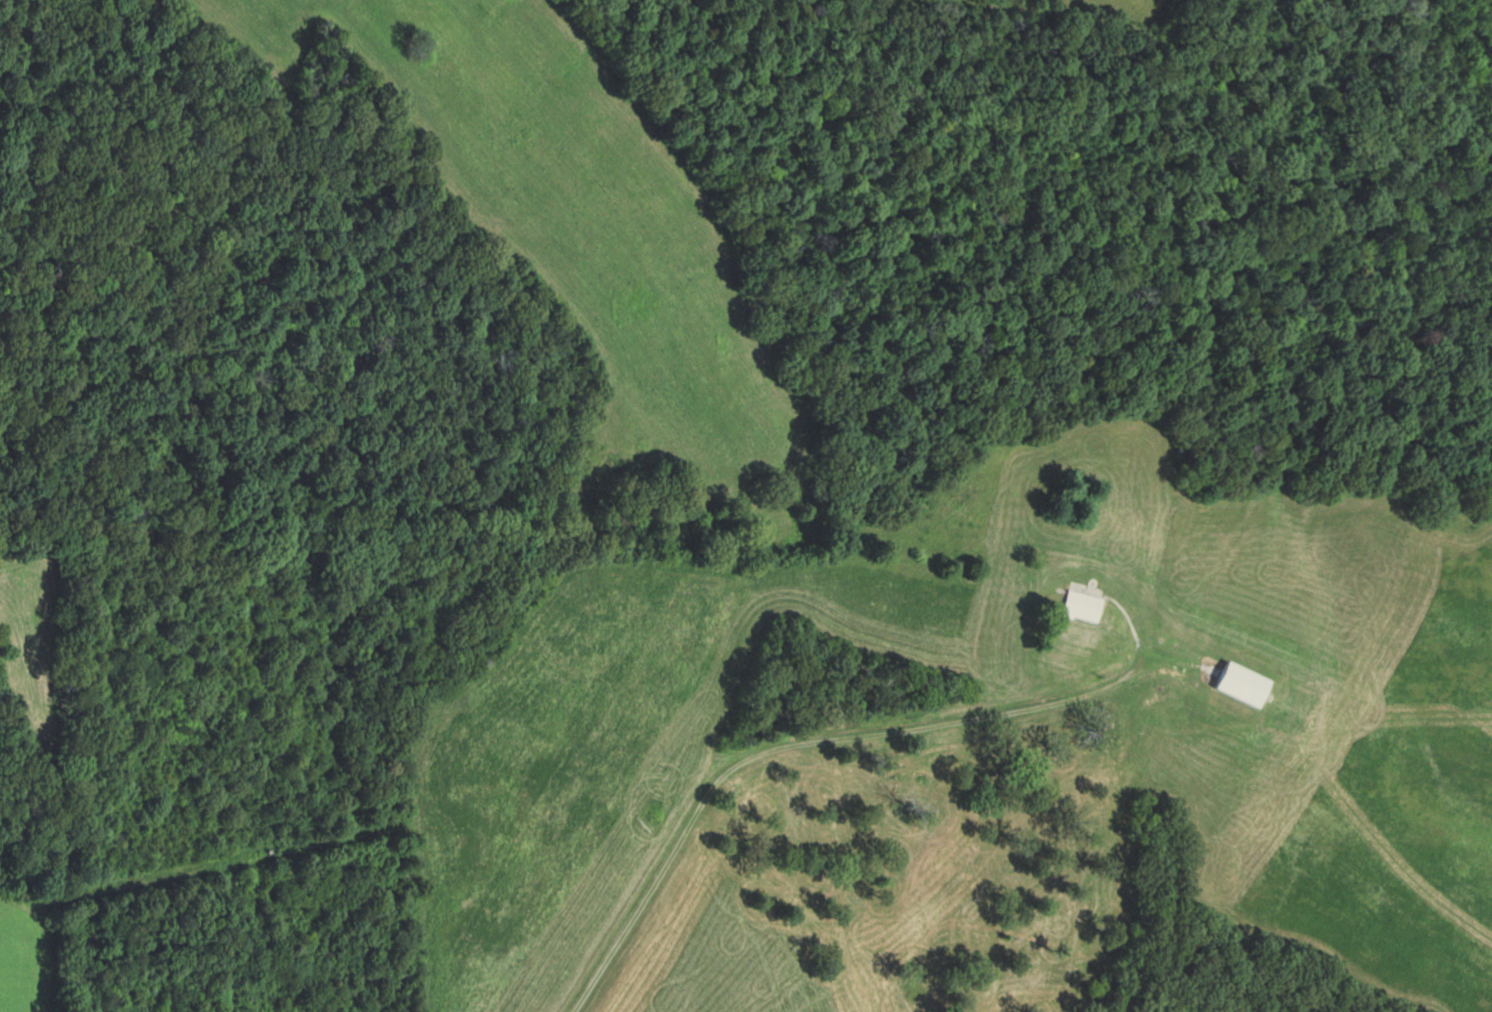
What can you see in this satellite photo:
building: (1082, 603)
building: (1243, 684)
road: (799, 744)

